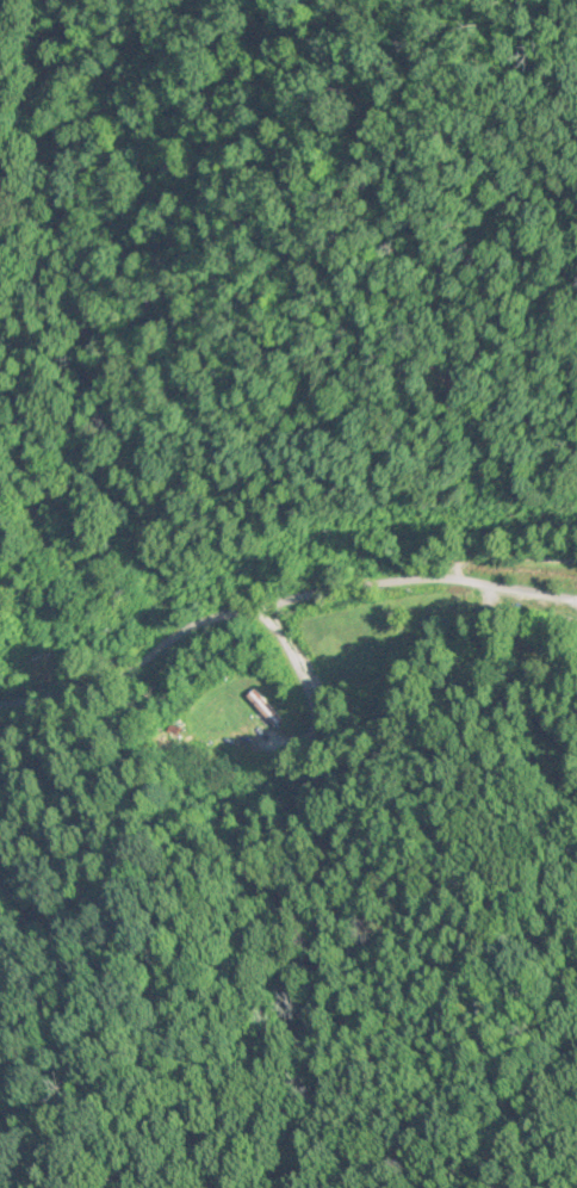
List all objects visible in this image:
road: (273, 559)

